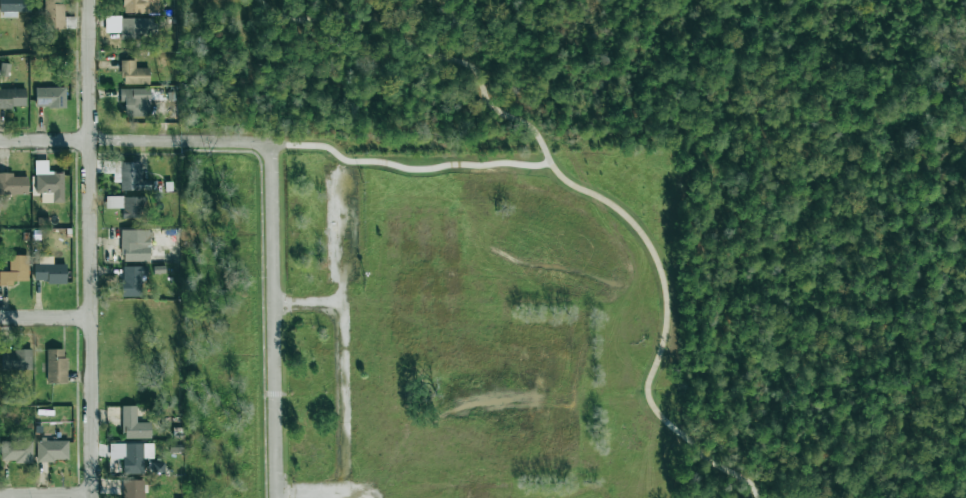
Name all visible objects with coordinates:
building: (15, 6)
building: (140, 6)
building: (57, 16)
building: (131, 27)
building: (134, 73)
building: (50, 97)
building: (12, 98)
building: (134, 104)
road: (135, 141)
road: (408, 173)
building: (132, 177)
building: (48, 183)
building: (13, 184)
road: (580, 189)
building: (128, 205)
building: (135, 245)
road: (90, 249)
building: (15, 270)
building: (49, 273)
building: (132, 280)
road: (311, 306)
road: (45, 317)
park: (480, 318)
road: (274, 320)
road: (348, 334)
building: (16, 359)
building: (56, 366)
building: (134, 425)
building: (52, 450)
building: (16, 451)
building: (131, 456)
building: (158, 468)
building: (133, 489)
road: (310, 490)
road: (46, 495)

